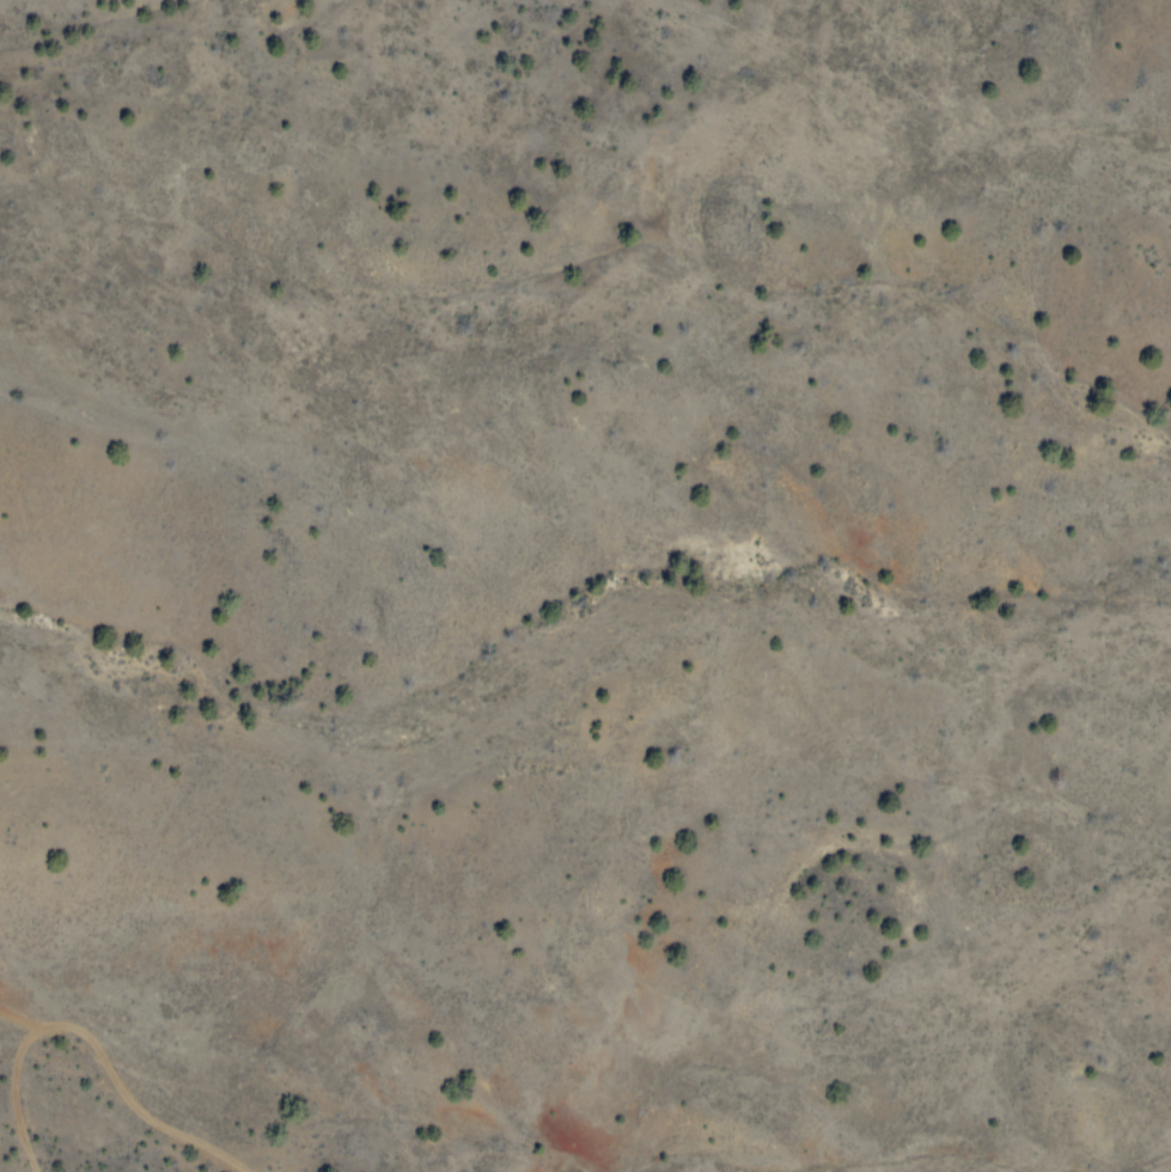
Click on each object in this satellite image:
road: (86, 1038)

